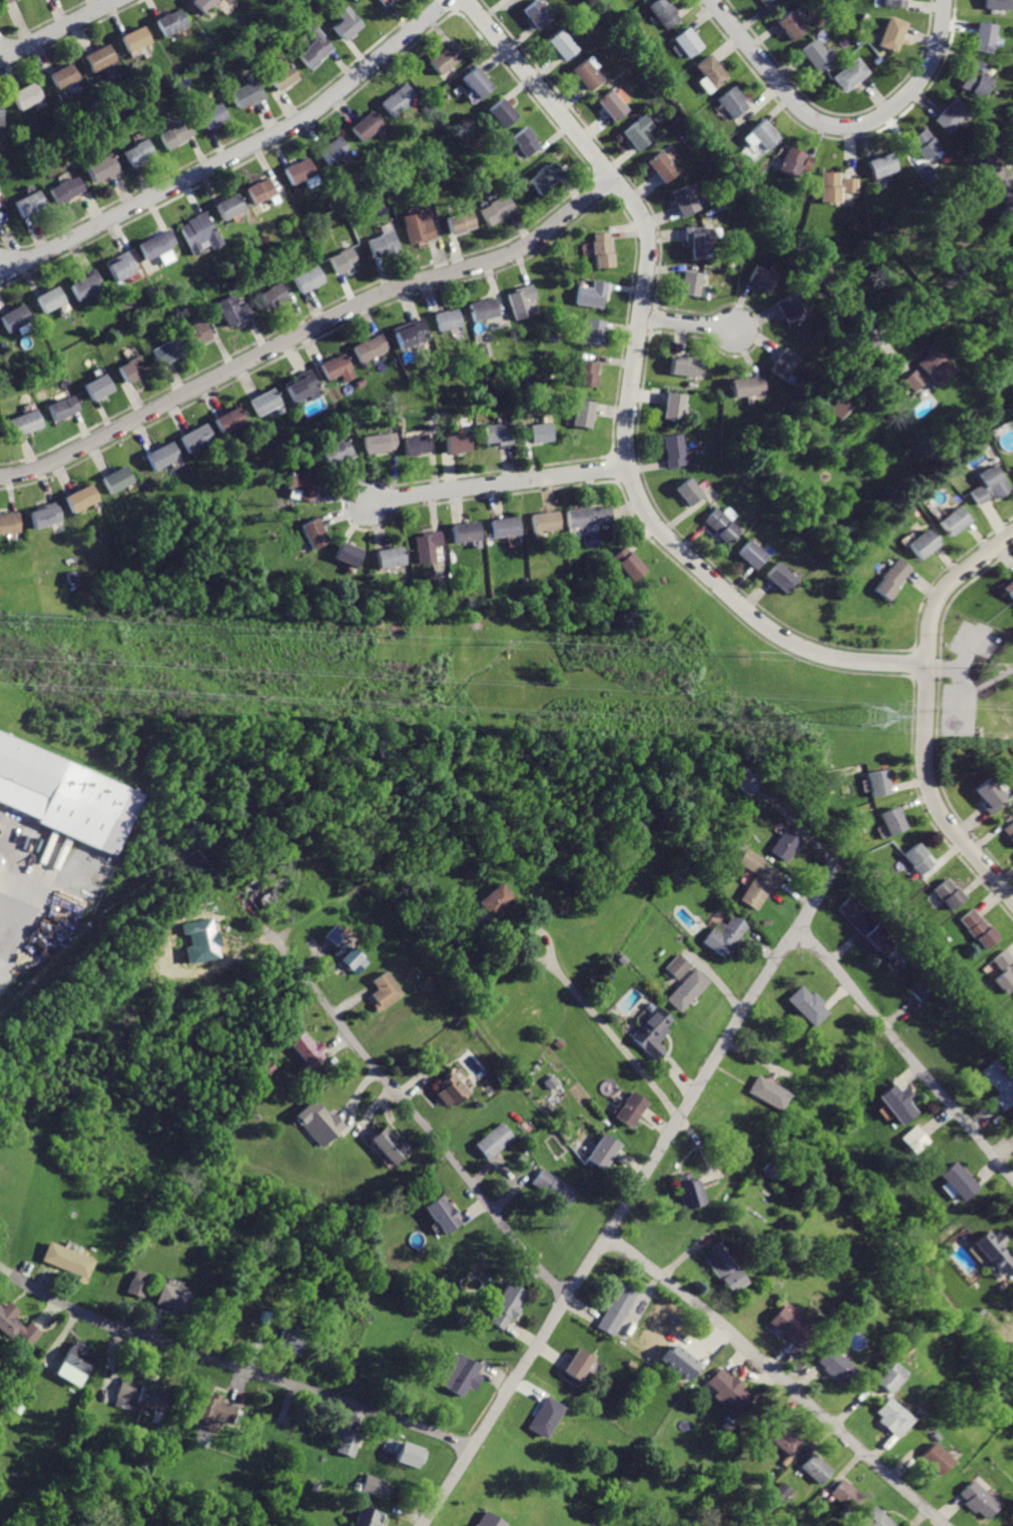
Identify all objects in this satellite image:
building: (45, 0)
building: (5, 1)
building: (384, 2)
building: (764, 2)
building: (894, 4)
building: (1000, 4)
building: (204, 5)
building: (663, 13)
building: (536, 14)
building: (172, 22)
building: (344, 23)
building: (791, 25)
road: (61, 29)
building: (891, 34)
building: (985, 36)
building: (138, 39)
building: (688, 41)
building: (562, 45)
building: (315, 46)
road: (0, 49)
road: (0, 55)
building: (814, 56)
building: (102, 57)
building: (447, 57)
building: (711, 71)
building: (848, 74)
building: (587, 75)
building: (282, 76)
building: (65, 77)
building: (978, 79)
building: (477, 83)
building: (246, 93)
building: (28, 95)
building: (397, 101)
building: (731, 102)
building: (613, 106)
building: (503, 113)
building: (951, 114)
building: (212, 115)
building: (1, 117)
building: (366, 126)
road: (837, 127)
building: (639, 133)
building: (762, 133)
building: (174, 134)
building: (524, 142)
building: (924, 143)
building: (334, 150)
building: (138, 152)
road: (236, 154)
building: (794, 161)
building: (882, 164)
building: (104, 166)
building: (662, 167)
building: (300, 170)
building: (926, 173)
building: (544, 176)
building: (998, 184)
building: (834, 186)
building: (66, 189)
building: (261, 190)
building: (685, 201)
building: (0, 204)
building: (30, 205)
building: (230, 207)
building: (500, 210)
building: (461, 221)
building: (420, 227)
building: (200, 232)
building: (696, 241)
building: (384, 243)
building: (155, 245)
building: (603, 249)
building: (345, 260)
building: (121, 267)
building: (823, 273)
building: (763, 277)
building: (310, 278)
building: (691, 283)
building: (87, 284)
building: (592, 294)
building: (276, 296)
building: (51, 299)
road: (928, 299)
building: (522, 301)
building: (483, 309)
building: (235, 310)
building: (791, 310)
building: (16, 318)
building: (450, 320)
road: (688, 323)
road: (309, 331)
building: (594, 332)
building: (202, 334)
building: (413, 335)
building: (371, 348)
building: (486, 349)
building: (170, 350)
building: (783, 363)
building: (683, 365)
building: (936, 365)
building: (135, 368)
building: (340, 369)
building: (588, 373)
building: (914, 380)
building: (100, 386)
building: (745, 386)
building: (304, 387)
road: (630, 393)
building: (267, 403)
building: (672, 406)
building: (67, 407)
building: (839, 408)
building: (583, 413)
building: (232, 420)
building: (28, 422)
building: (535, 432)
building: (497, 433)
building: (198, 438)
building: (379, 442)
building: (457, 442)
building: (414, 443)
building: (673, 450)
building: (333, 451)
building: (164, 456)
building: (118, 479)
road: (500, 483)
building: (991, 485)
building: (301, 486)
building: (691, 491)
building: (82, 497)
building: (46, 514)
building: (590, 516)
building: (545, 520)
building: (955, 521)
building: (9, 522)
building: (725, 525)
building: (505, 526)
building: (467, 531)
building: (313, 533)
building: (924, 543)
building: (428, 545)
building: (348, 553)
building: (757, 555)
building: (389, 557)
building: (630, 563)
building: (784, 577)
building: (894, 579)
building: (1008, 588)
road: (946, 666)
road: (961, 675)
parking lot: (965, 678)
park: (970, 680)
road: (988, 687)
road: (929, 713)
power tower: (874, 718)
building: (749, 780)
building: (879, 781)
building: (67, 794)
building: (989, 796)
building: (892, 820)
building: (1009, 830)
building: (788, 844)
building: (748, 859)
building: (920, 859)
building: (760, 885)
building: (948, 892)
road: (820, 896)
building: (497, 898)
building: (856, 911)
building: (980, 929)
road: (527, 931)
building: (334, 934)
road: (22, 935)
building: (726, 936)
building: (877, 936)
building: (202, 939)
building: (350, 957)
road: (832, 961)
building: (678, 965)
building: (1006, 969)
building: (689, 988)
building: (921, 988)
building: (384, 990)
building: (811, 1003)
building: (653, 1033)
road: (617, 1038)
building: (308, 1048)
building: (1002, 1082)
road: (936, 1087)
building: (451, 1090)
building: (769, 1090)
building: (901, 1102)
building: (629, 1108)
road: (416, 1115)
building: (320, 1121)
building: (495, 1139)
building: (917, 1139)
building: (391, 1144)
building: (602, 1150)
building: (961, 1180)
building: (554, 1186)
building: (688, 1190)
building: (444, 1213)
road: (610, 1229)
building: (996, 1249)
building: (67, 1259)
building: (724, 1266)
building: (138, 1282)
building: (173, 1297)
building: (507, 1305)
building: (617, 1307)
building: (790, 1326)
building: (17, 1327)
building: (289, 1339)
building: (679, 1361)
building: (76, 1363)
building: (579, 1363)
building: (833, 1364)
road: (232, 1366)
building: (459, 1373)
building: (889, 1374)
road: (779, 1375)
building: (729, 1391)
building: (143, 1393)
building: (546, 1416)
building: (892, 1417)
building: (787, 1439)
building: (348, 1442)
building: (408, 1453)
building: (935, 1456)
building: (817, 1467)
building: (377, 1485)
building: (781, 1490)
building: (846, 1493)
building: (977, 1500)
building: (366, 1516)
building: (876, 1517)
building: (490, 1519)
building: (1012, 1525)

